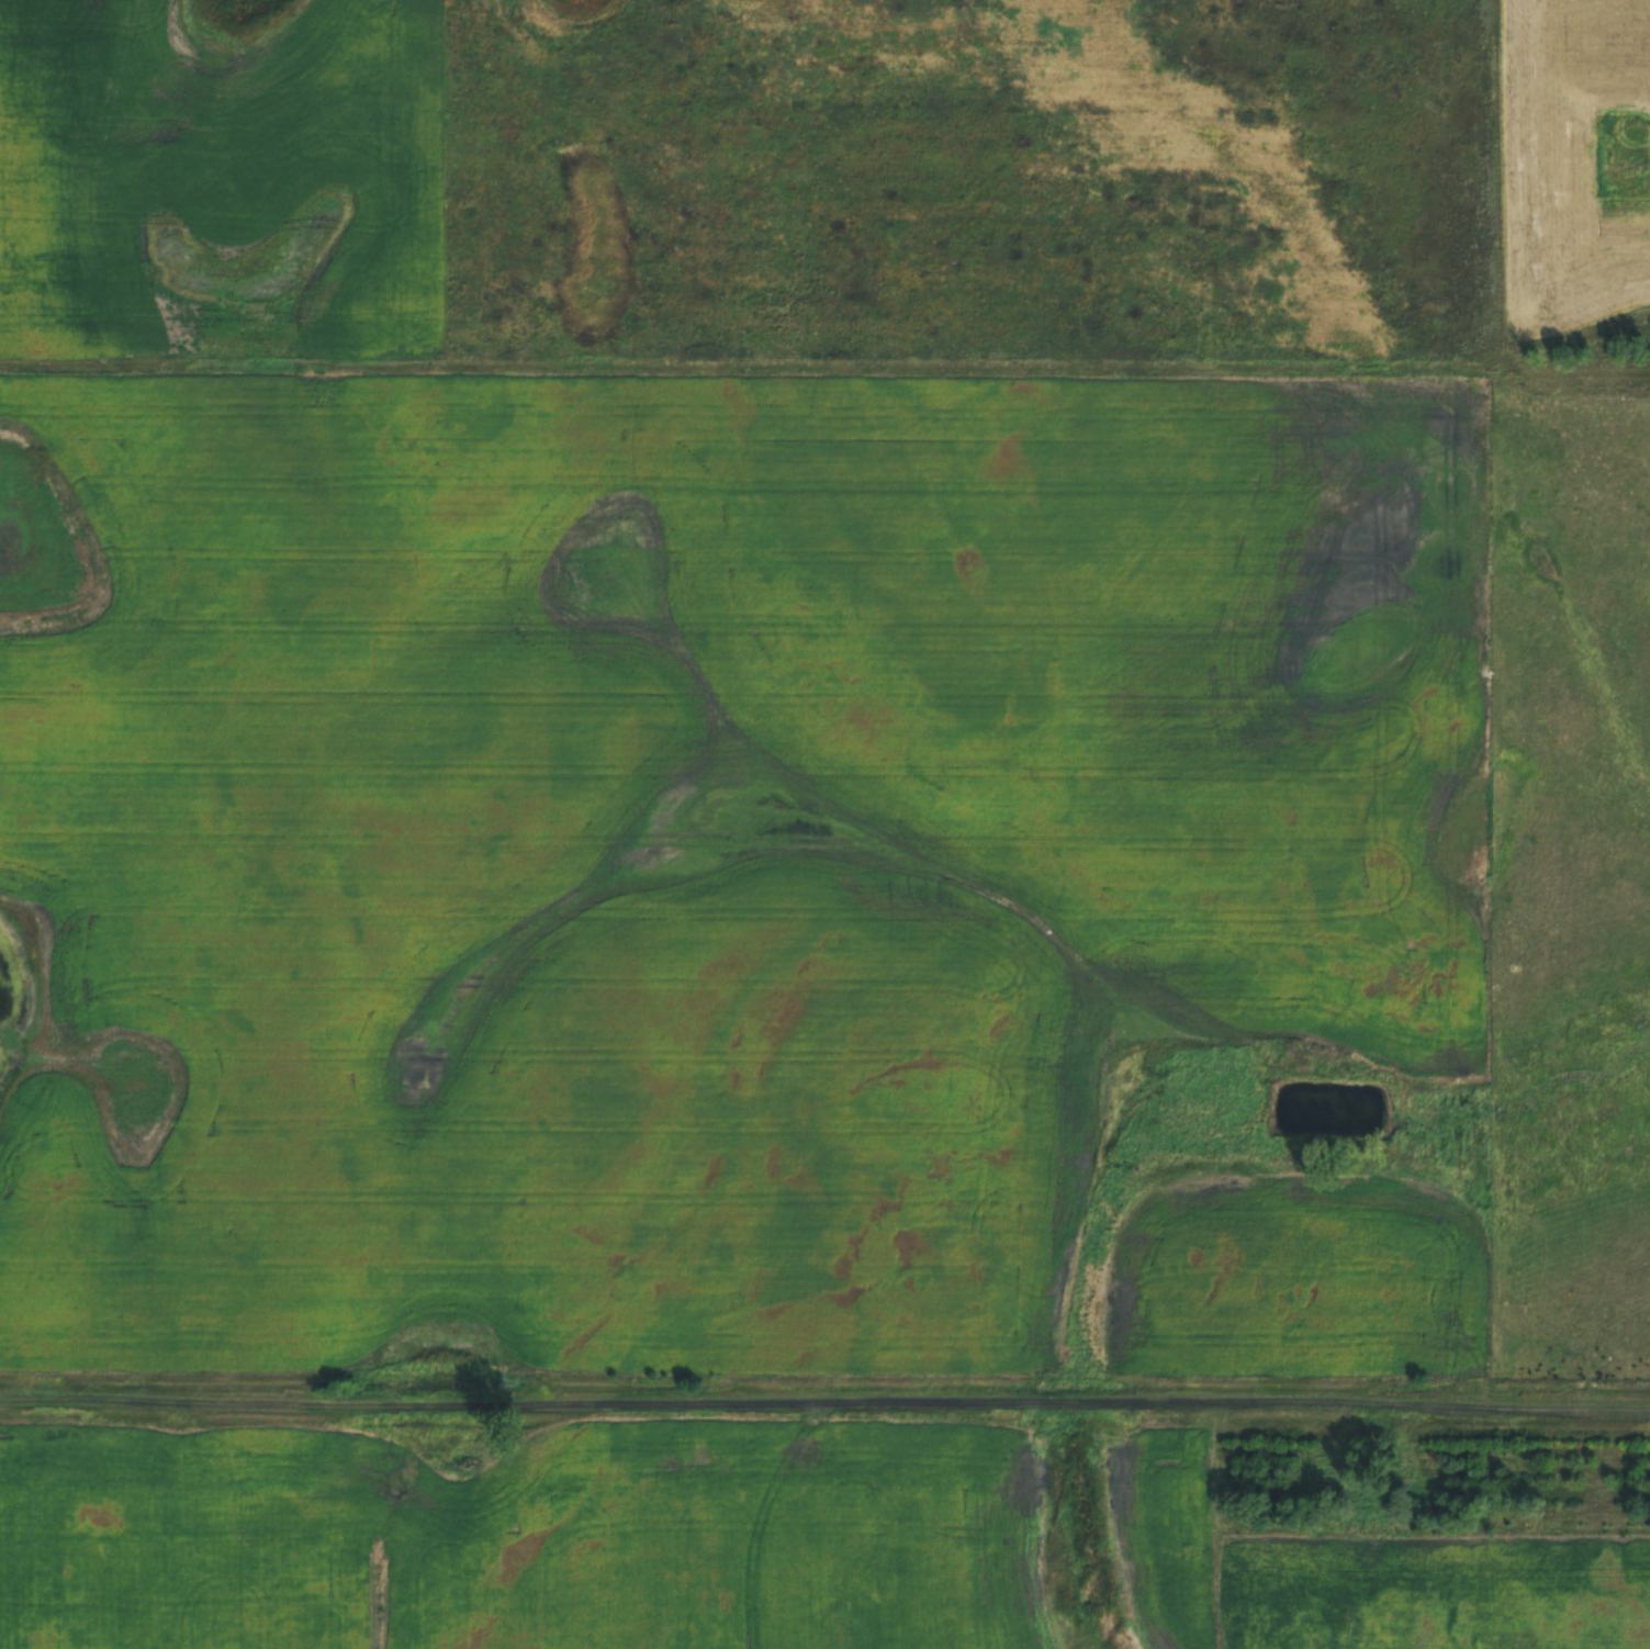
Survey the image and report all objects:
road: (824, 1402)

